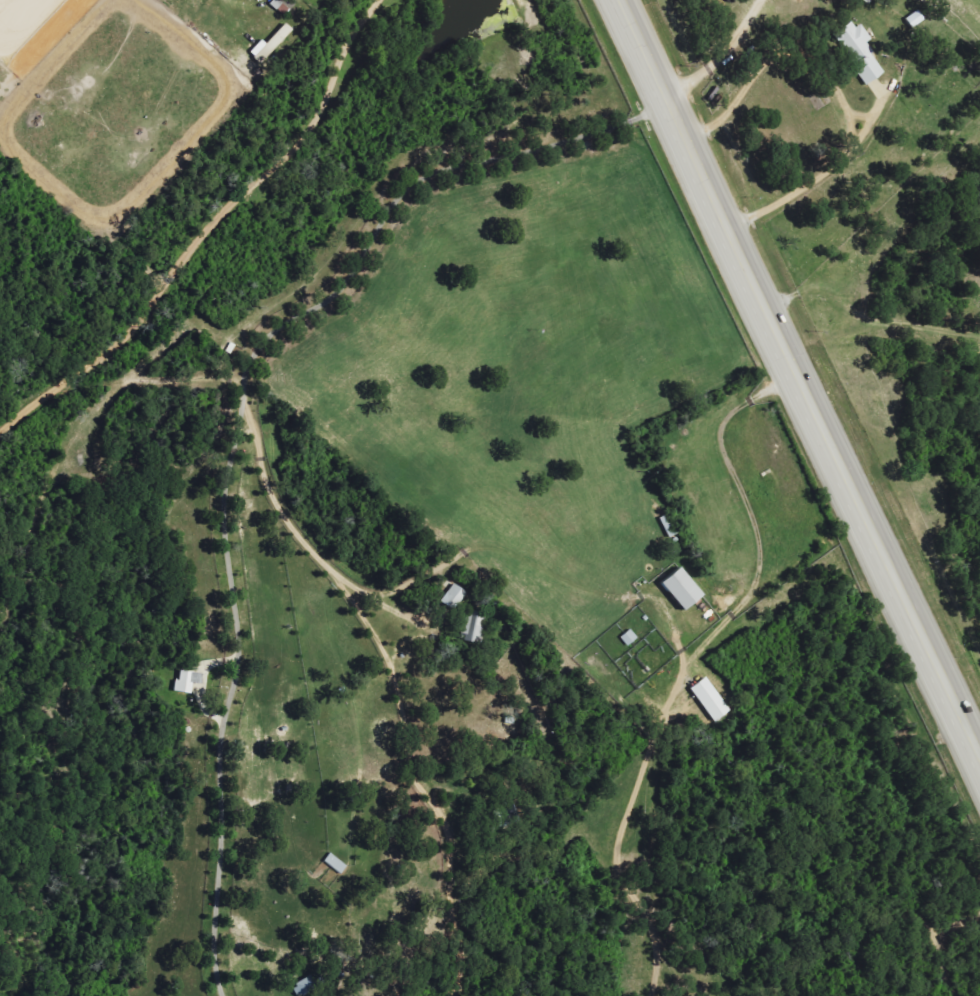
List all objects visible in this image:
building: (283, 6)
building: (272, 44)
building: (860, 51)
road: (206, 227)
road: (801, 376)
road: (235, 422)
building: (684, 590)
building: (455, 597)
building: (475, 627)
road: (688, 658)
road: (394, 673)
building: (188, 682)
building: (710, 700)
building: (336, 864)
road: (941, 938)
building: (310, 984)

